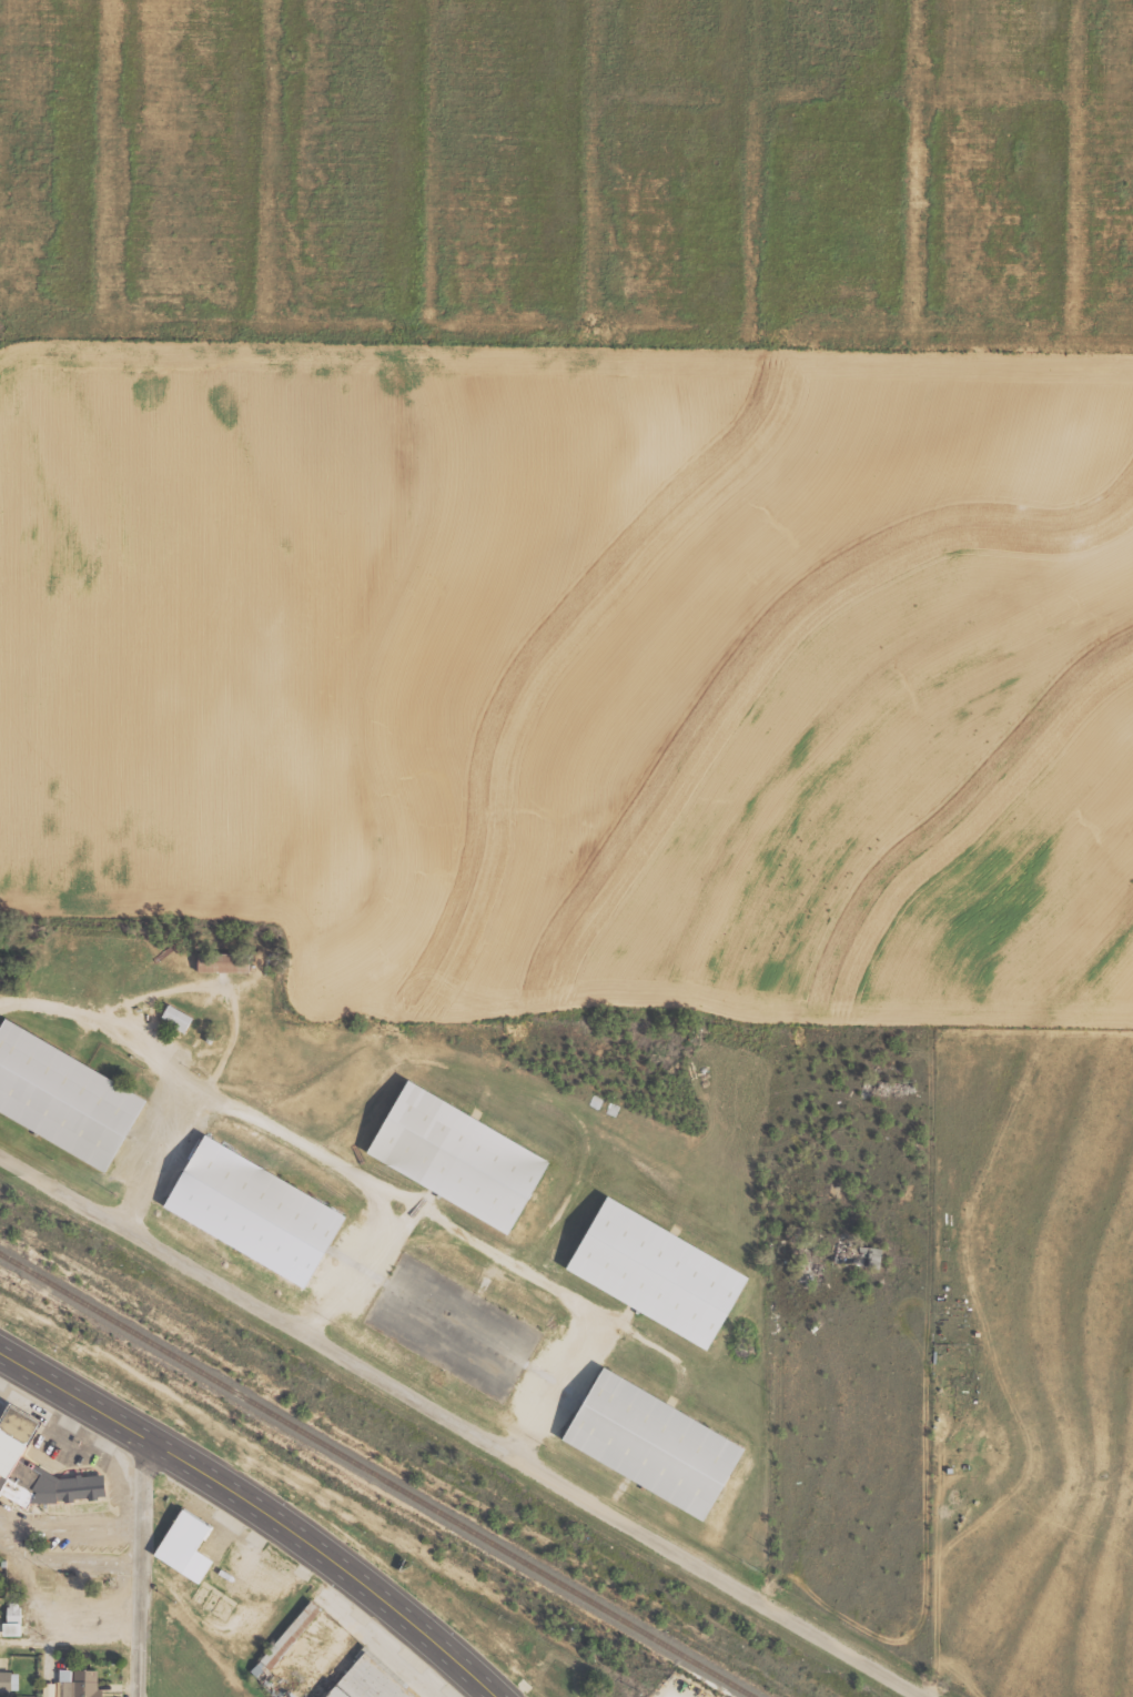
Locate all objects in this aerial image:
building: (225, 962)
building: (178, 1018)
building: (67, 1097)
road: (156, 1151)
building: (465, 1158)
road: (367, 1181)
building: (260, 1211)
road: (346, 1261)
building: (664, 1273)
building: (462, 1329)
road: (352, 1356)
building: (660, 1444)
building: (36, 1467)
railway: (374, 1474)
road: (260, 1502)
building: (192, 1545)
road: (146, 1563)
building: (13, 1618)
road: (817, 1630)
building: (292, 1634)
building: (372, 1680)
building: (9, 1681)
building: (74, 1684)

